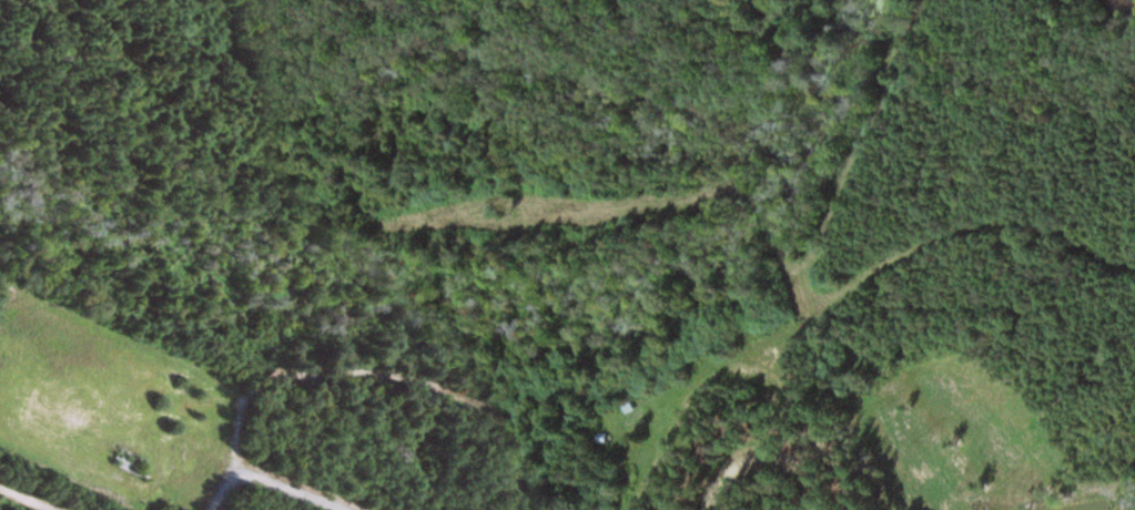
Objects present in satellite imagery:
park: (255, 257)
road: (340, 373)
building: (133, 459)
road: (272, 479)
road: (24, 499)

